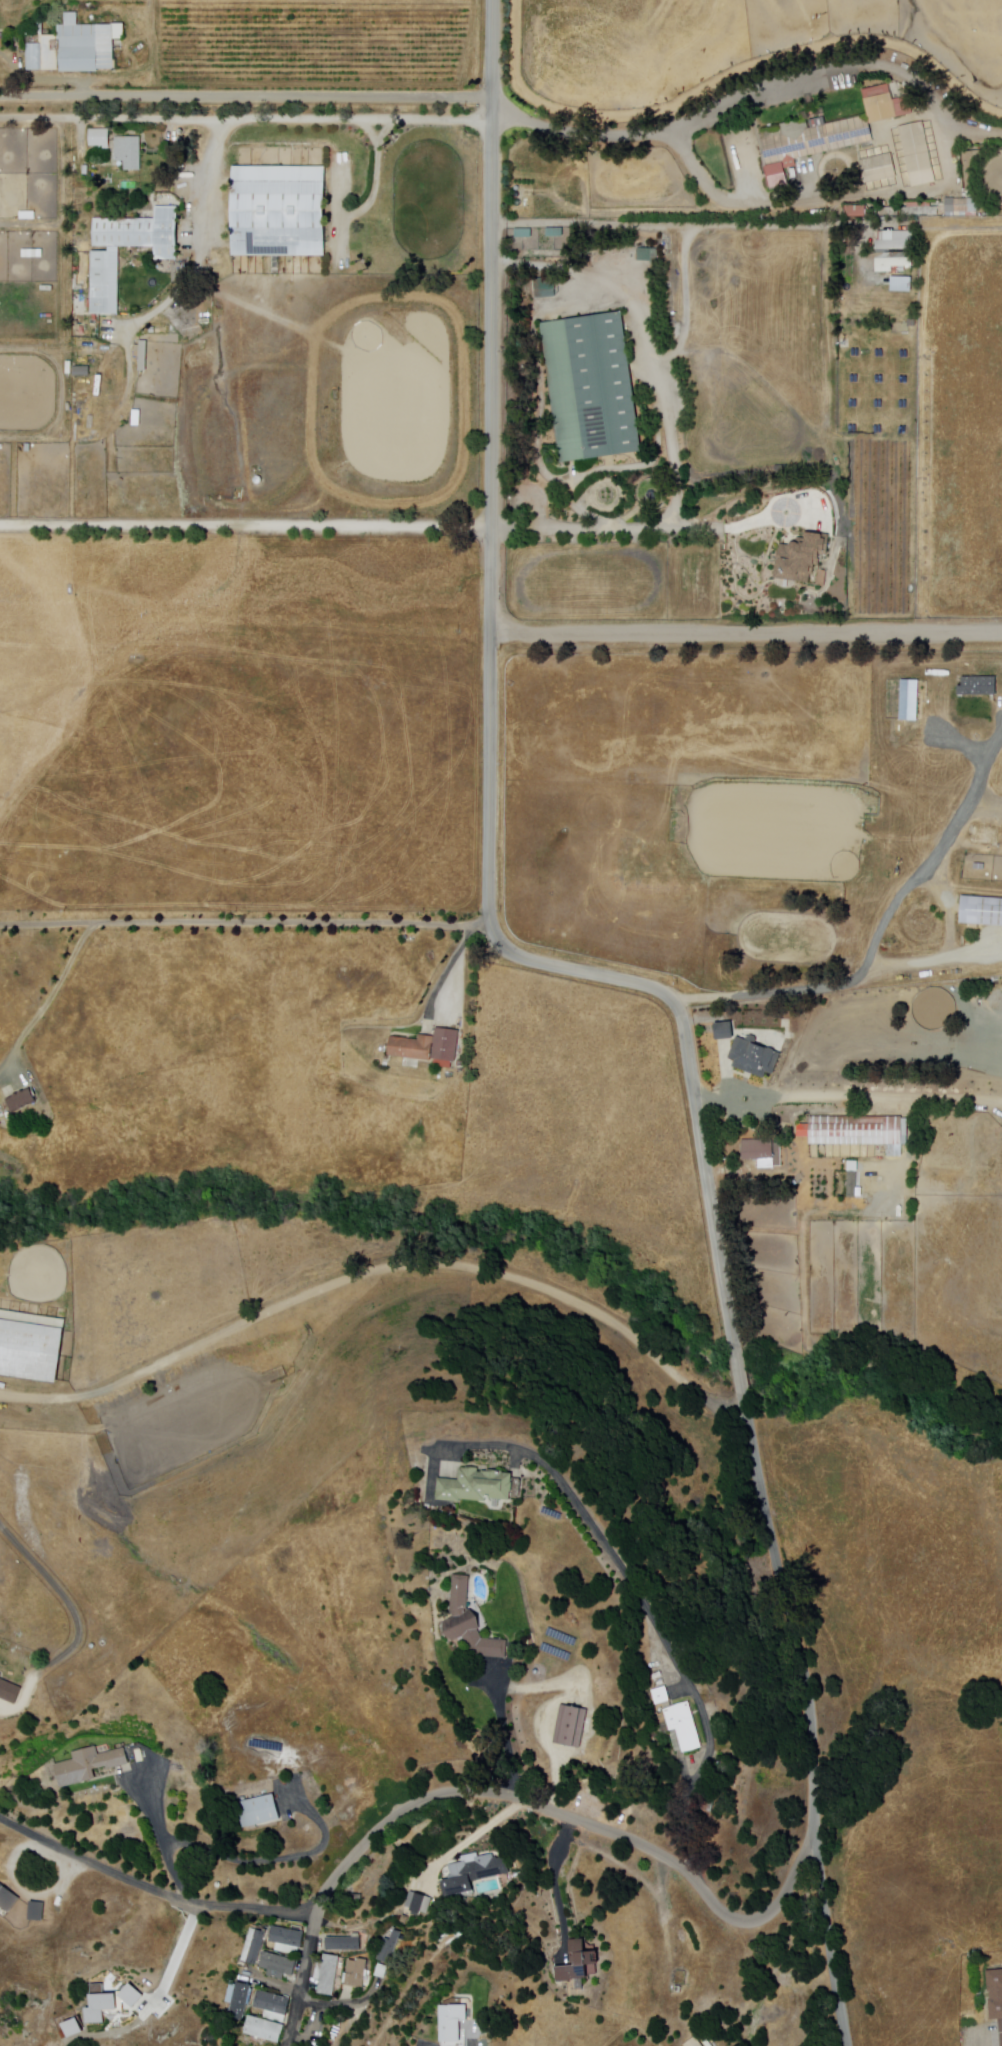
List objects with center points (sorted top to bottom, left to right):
building: (78, 48)
road: (756, 92)
road: (246, 96)
road: (246, 120)
building: (830, 130)
storage tank: (183, 133)
building: (101, 138)
storage tank: (183, 140)
building: (130, 153)
building: (918, 155)
building: (879, 169)
building: (969, 172)
building: (774, 176)
road: (378, 178)
building: (961, 206)
building: (919, 210)
building: (282, 212)
road: (704, 225)
building: (143, 233)
building: (896, 241)
road: (199, 244)
building: (647, 254)
building: (891, 265)
building: (106, 282)
building: (544, 288)
building: (96, 344)
building: (855, 353)
building: (879, 353)
building: (904, 353)
building: (145, 356)
building: (124, 362)
building: (84, 372)
building: (878, 378)
building: (854, 379)
building: (903, 379)
building: (591, 387)
building: (878, 403)
building: (853, 404)
building: (903, 404)
building: (877, 428)
building: (852, 429)
building: (902, 430)
road: (675, 459)
storage tank: (260, 481)
road: (247, 523)
road: (730, 526)
building: (799, 557)
building: (821, 578)
road: (746, 631)
building: (978, 685)
building: (909, 700)
road: (490, 737)
building: (978, 867)
building: (980, 912)
road: (245, 923)
road: (878, 939)
road: (453, 966)
building: (941, 993)
road: (52, 1001)
building: (721, 1032)
building: (449, 1045)
building: (414, 1048)
building: (997, 1050)
building: (752, 1058)
road: (837, 1097)
building: (24, 1101)
building: (857, 1132)
building: (756, 1151)
building: (851, 1186)
building: (934, 1194)
building: (919, 1218)
road: (378, 1268)
building: (32, 1347)
road: (738, 1369)
building: (479, 1487)
road: (63, 1596)
road: (642, 1604)
building: (473, 1625)
storage tank: (538, 1672)
building: (10, 1691)
building: (662, 1697)
road: (814, 1718)
building: (685, 1727)
building: (574, 1728)
road: (509, 1737)
building: (91, 1765)
road: (404, 1810)
building: (261, 1812)
road: (162, 1838)
road: (475, 1839)
building: (474, 1873)
road: (557, 1884)
storage tank: (221, 1885)
building: (360, 1899)
building: (405, 1920)
building: (289, 1940)
building: (346, 1943)
building: (248, 1945)
building: (256, 1946)
building: (392, 1948)
building: (384, 1951)
building: (583, 1965)
building: (280, 1966)
building: (383, 1972)
building: (359, 1974)
building: (329, 1975)
road: (305, 1980)
building: (994, 1994)
building: (109, 2001)
building: (240, 2001)
building: (274, 2007)
building: (454, 2025)
building: (71, 2028)
building: (265, 2029)
building: (1000, 2032)
building: (696, 2043)

